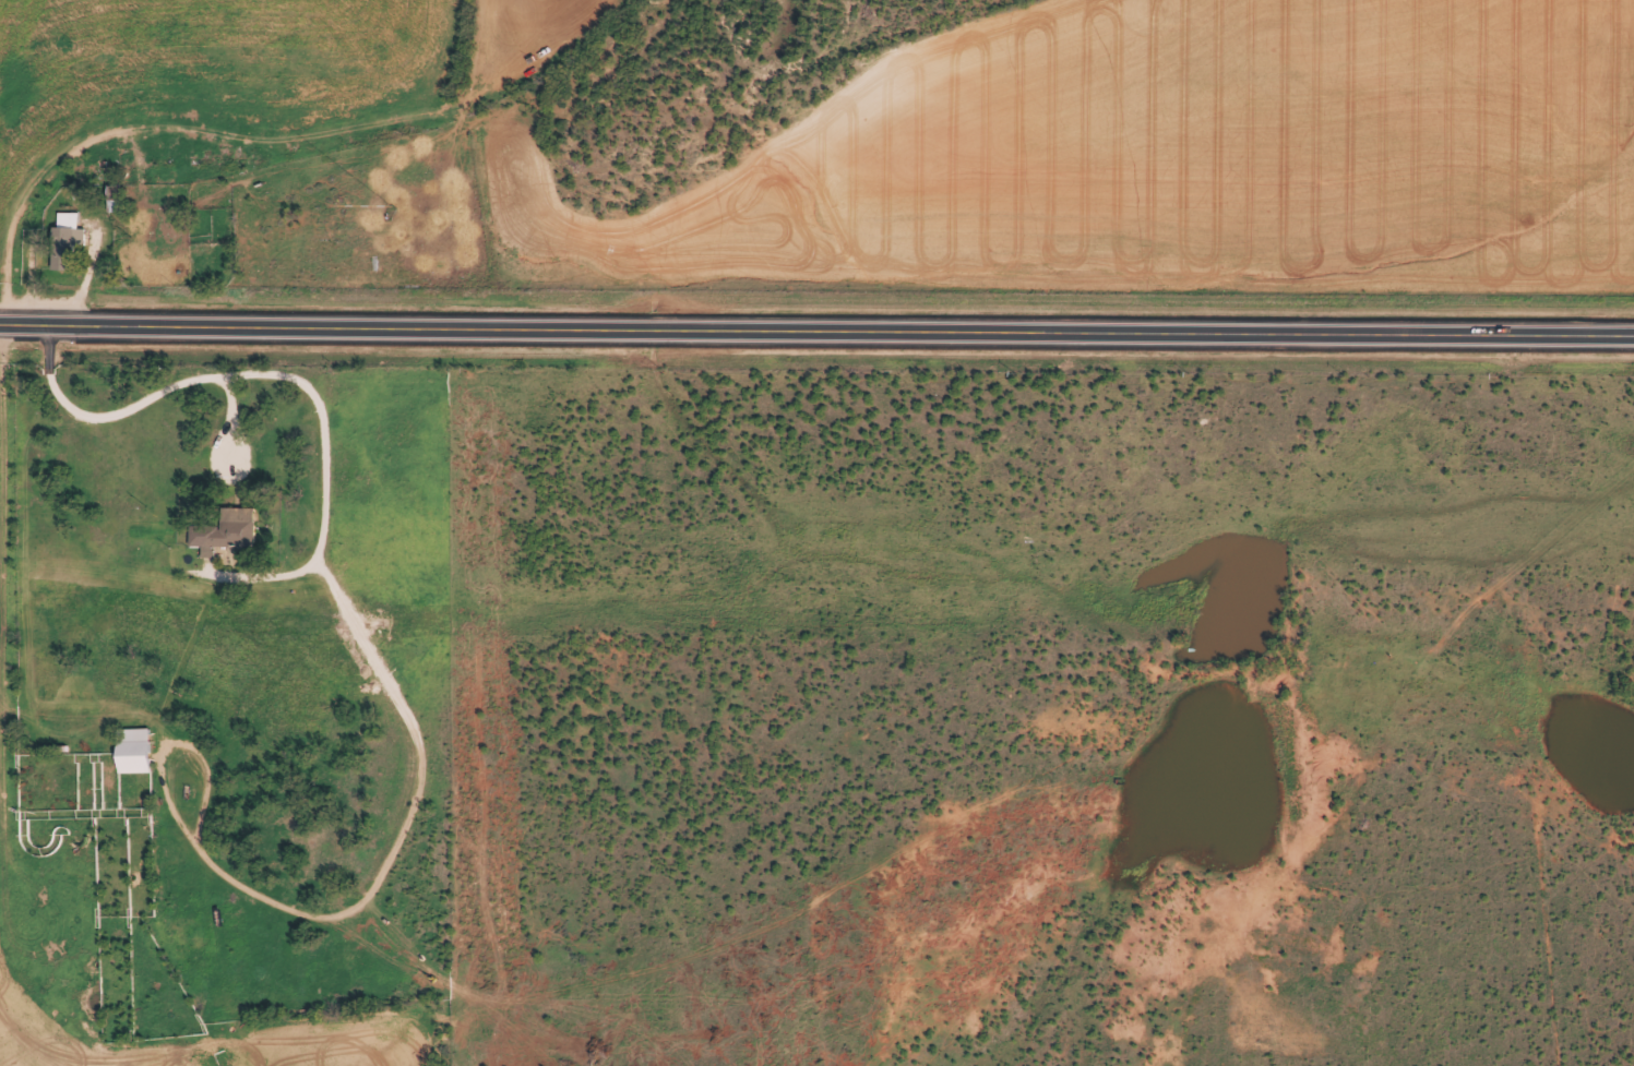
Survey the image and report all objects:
building: (61, 249)
road: (816, 339)

